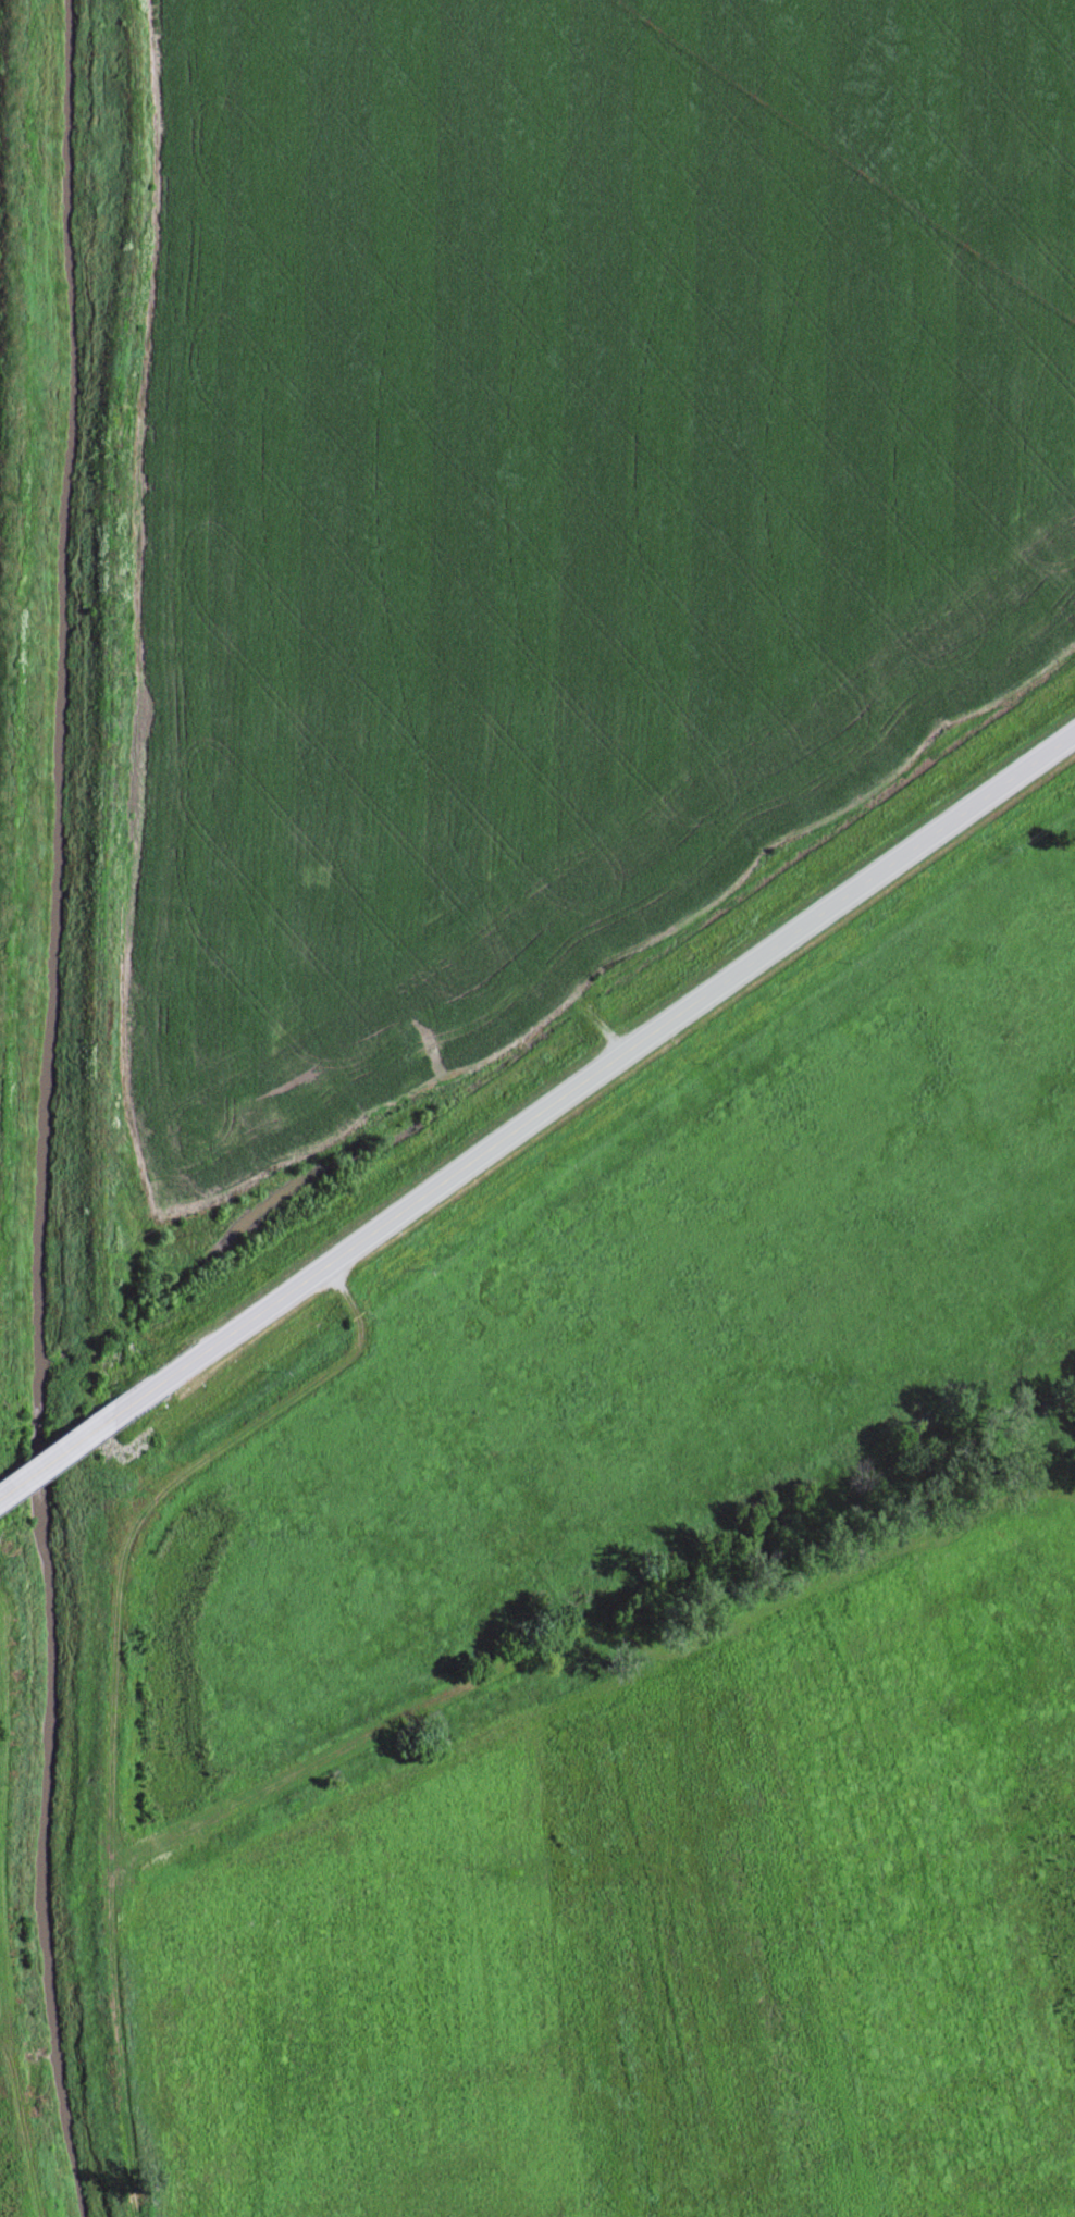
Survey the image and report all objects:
road: (537, 1150)
road: (101, 1374)
road: (27, 2102)
road: (40, 2195)

